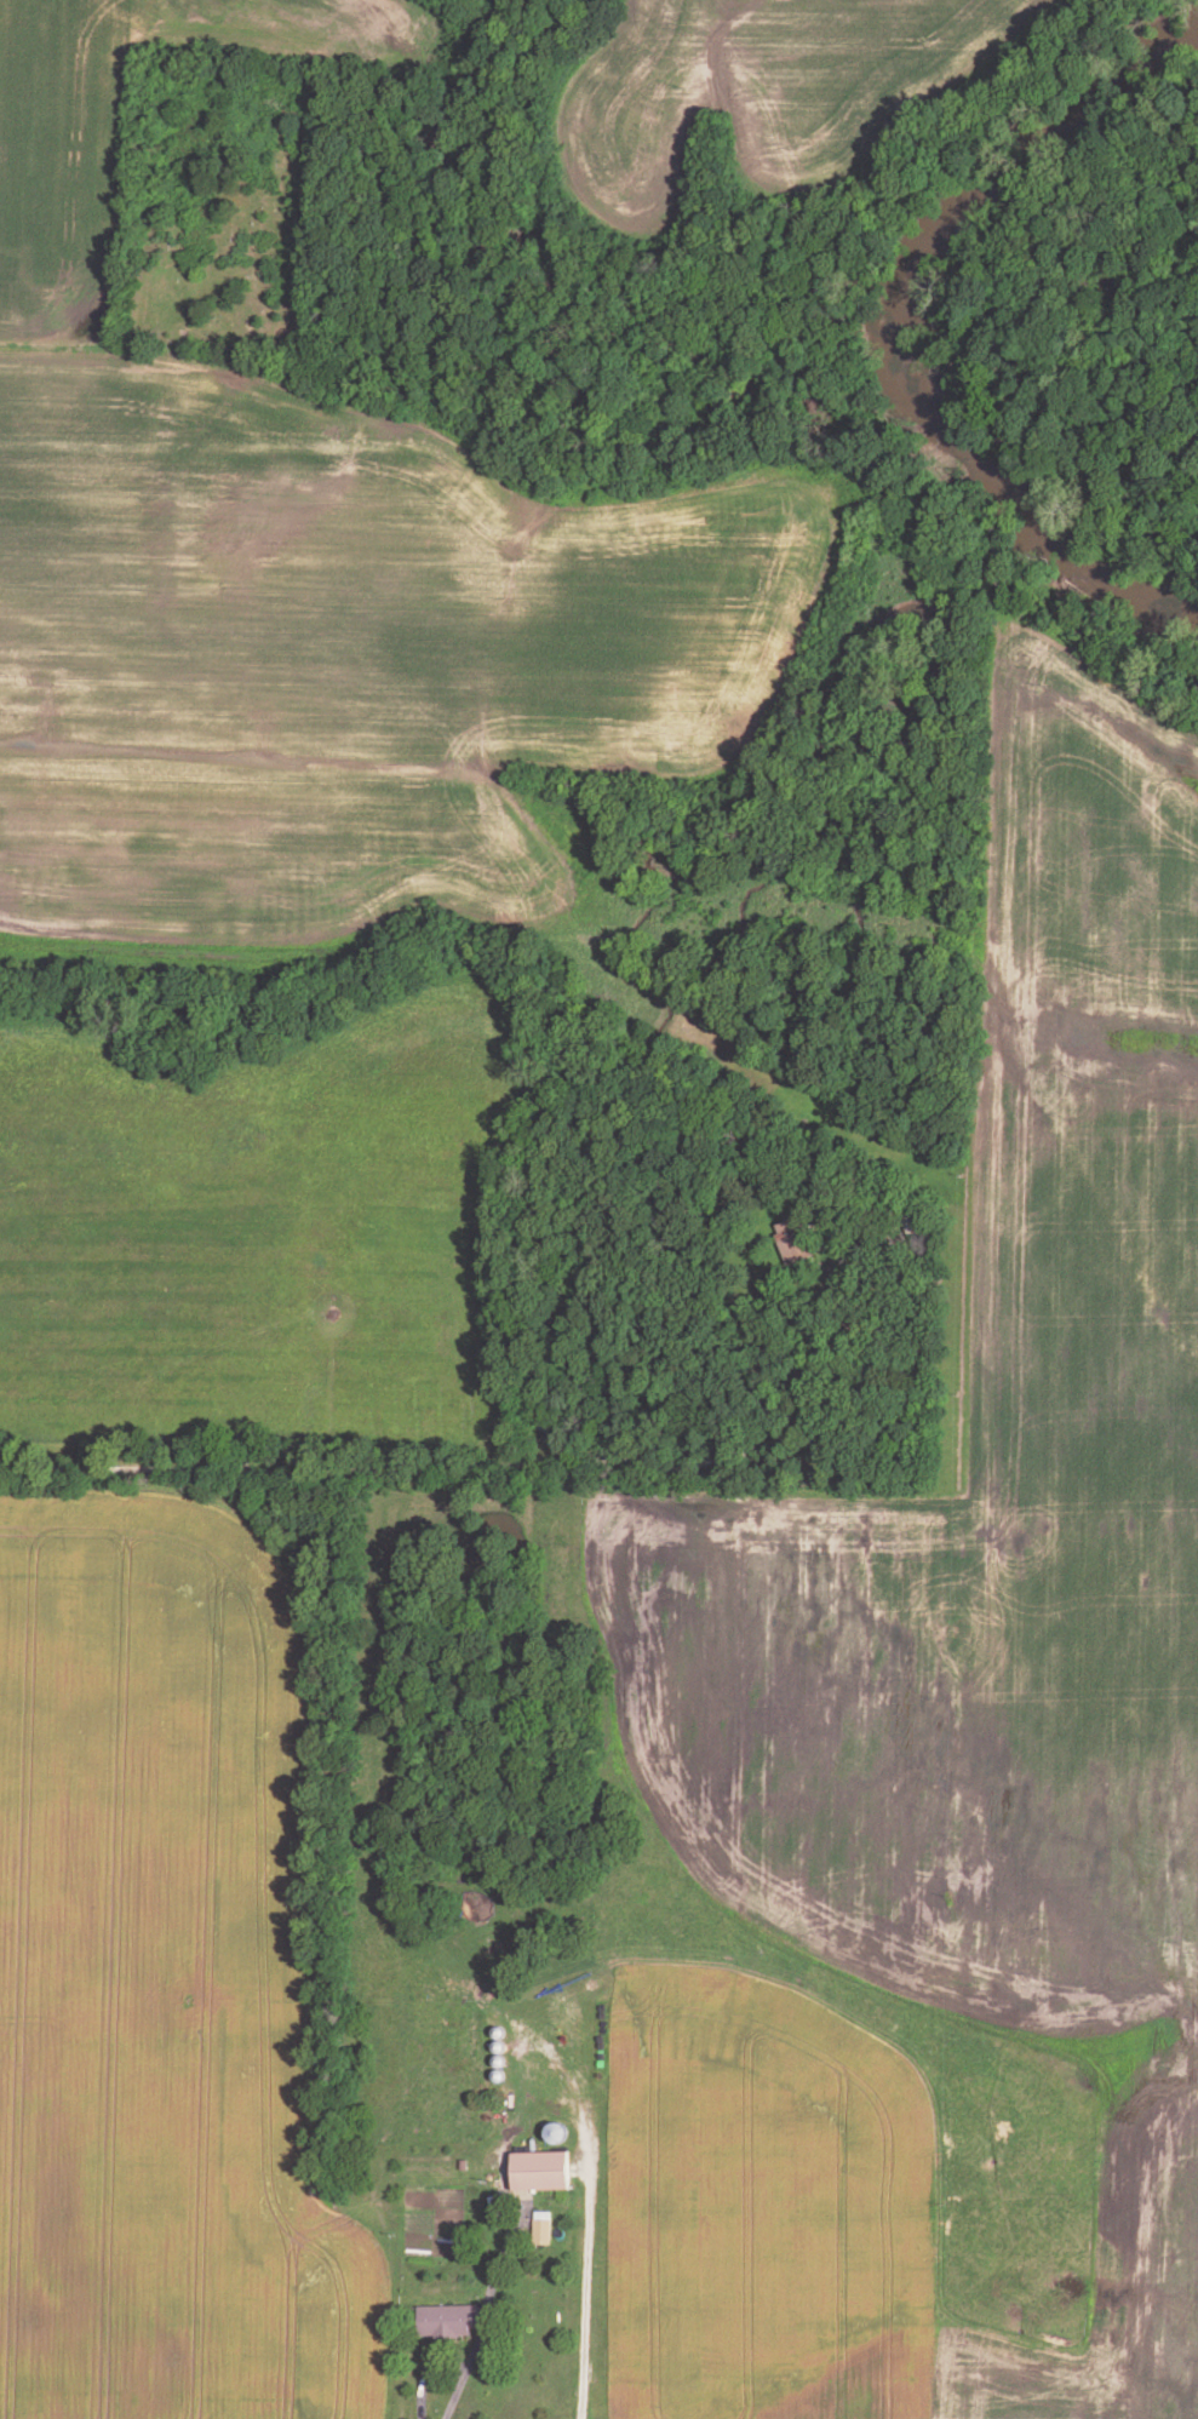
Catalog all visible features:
park: (223, 204)
river: (904, 326)
road: (746, 1340)
road: (296, 1472)
building: (540, 2166)
building: (543, 2224)
road: (589, 2224)
road: (486, 2315)
building: (448, 2316)

